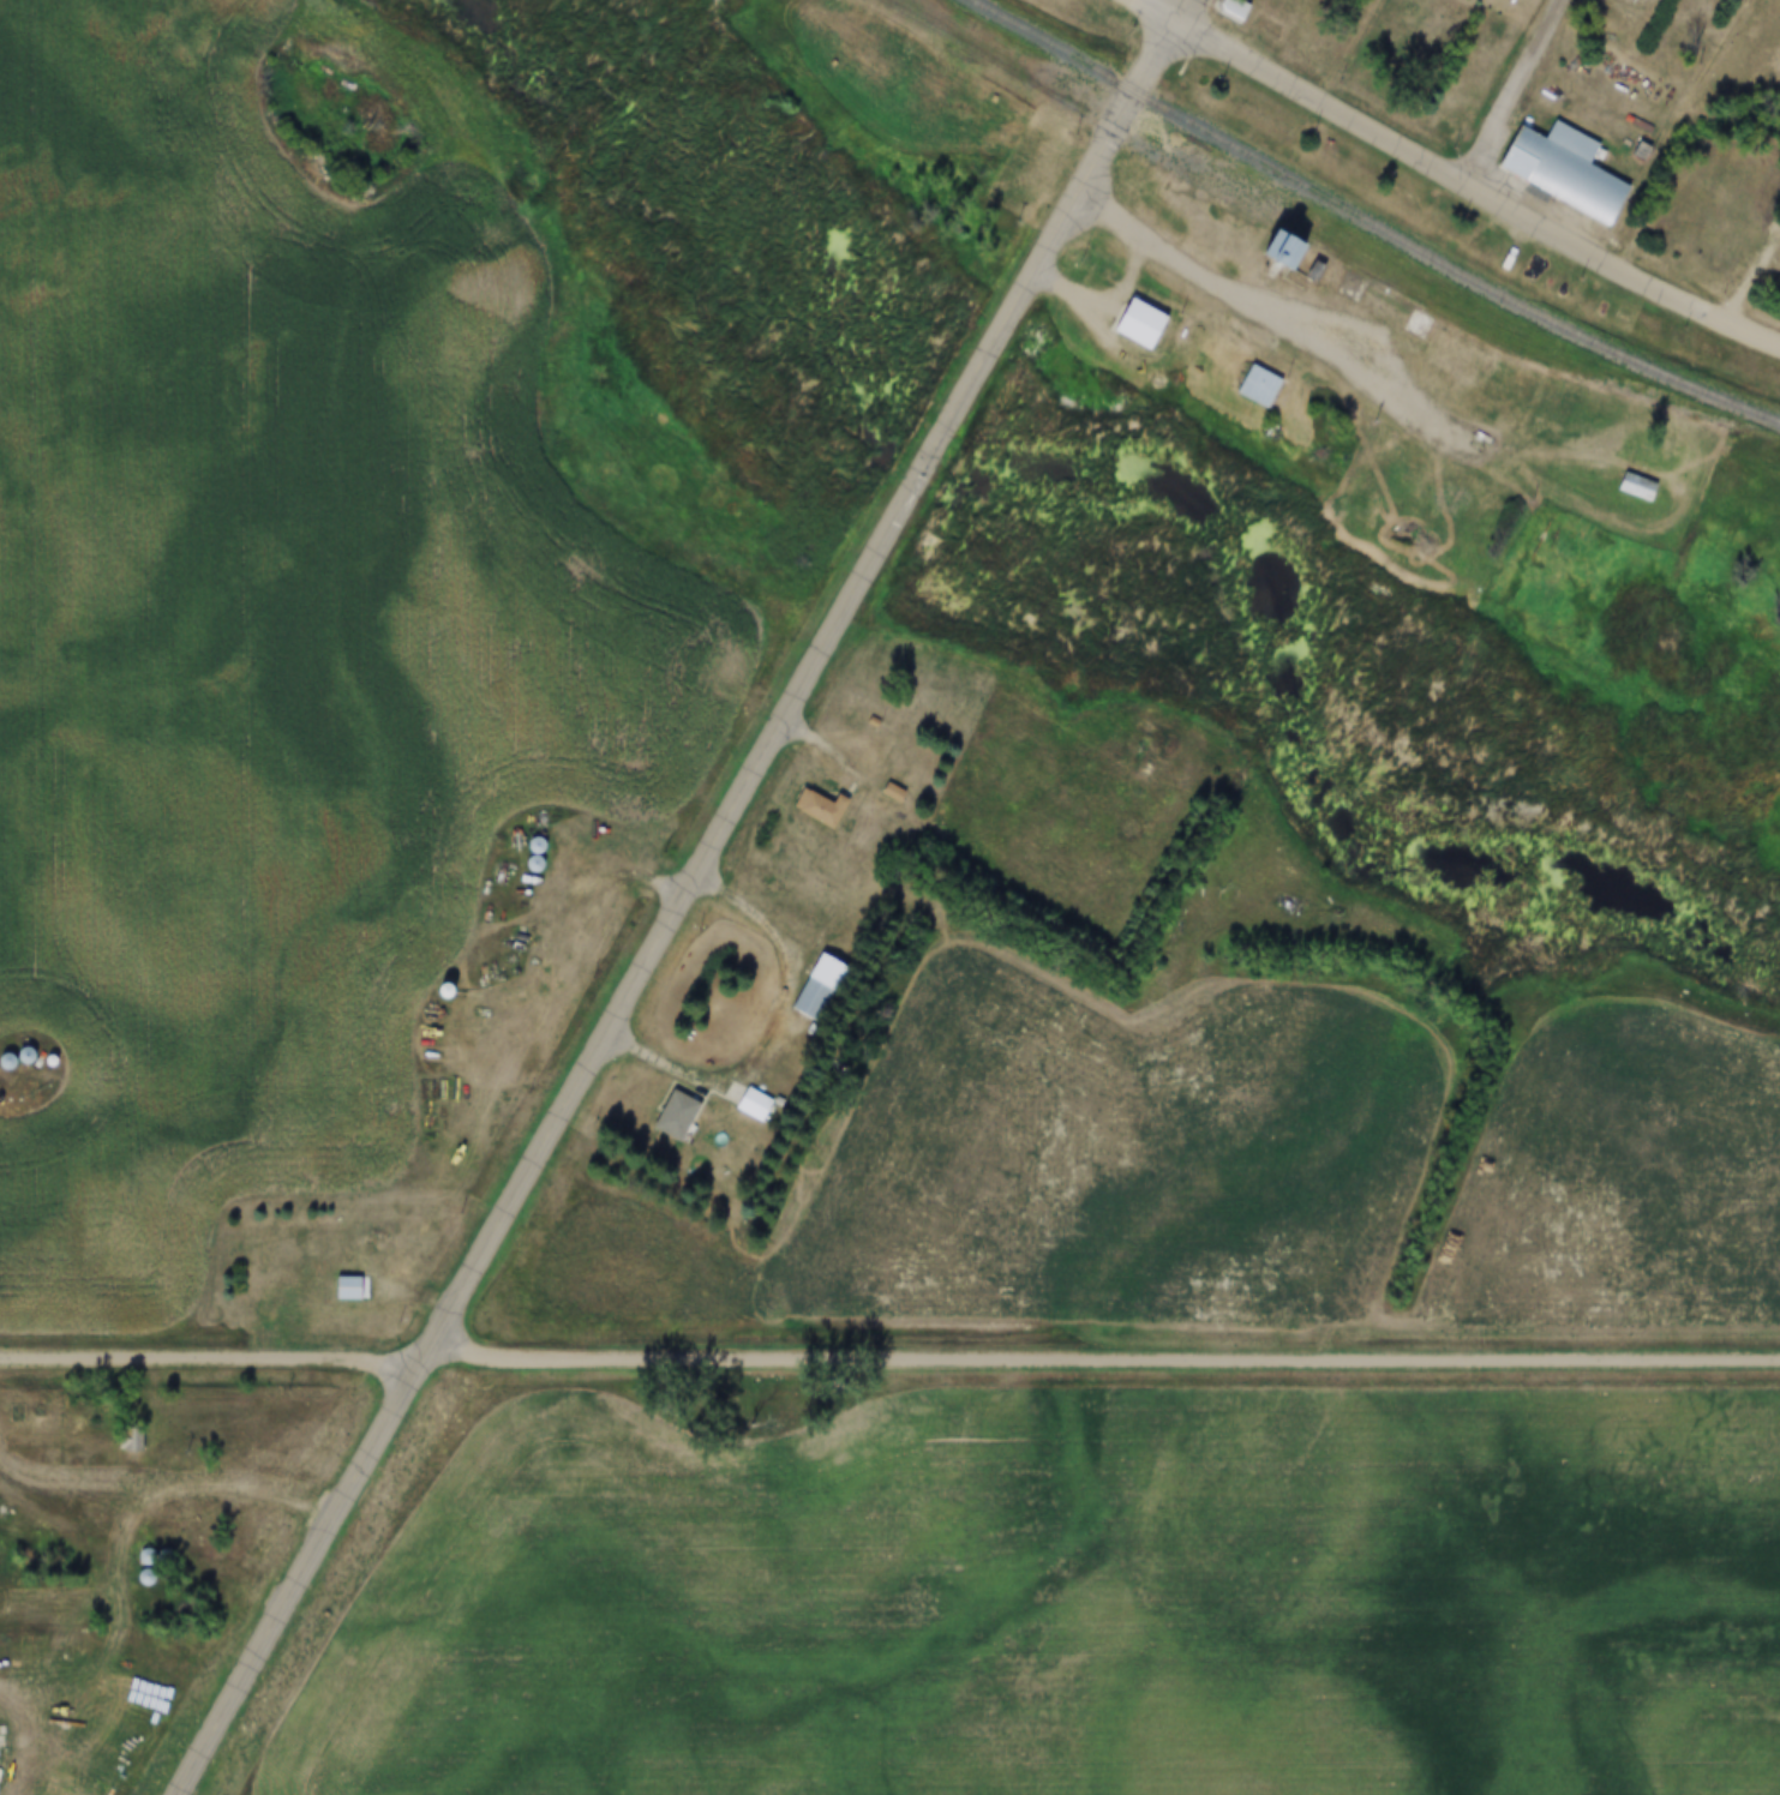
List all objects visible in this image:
road: (1157, 10)
road: (1181, 10)
building: (1233, 11)
road: (1156, 55)
road: (1512, 90)
building: (1647, 151)
building: (1574, 169)
road: (1449, 172)
railway: (1371, 223)
building: (1743, 223)
building: (1291, 251)
building: (1314, 272)
building: (1150, 323)
road: (1297, 326)
road: (1752, 329)
building: (1551, 362)
building: (1267, 385)
building: (1644, 487)
building: (1451, 494)
building: (1442, 496)
road: (781, 726)
building: (901, 792)
building: (893, 793)
building: (829, 806)
building: (546, 844)
silo: (546, 844)
building: (543, 864)
silo: (543, 864)
road: (595, 877)
building: (829, 986)
building: (453, 992)
silo: (453, 992)
building: (1156, 992)
road: (786, 1029)
building: (14, 1055)
silo: (14, 1055)
building: (24, 1056)
building: (38, 1059)
silo: (38, 1059)
building: (1, 1061)
silo: (1, 1061)
building: (762, 1104)
building: (685, 1116)
road: (17, 1123)
building: (272, 1229)
building: (379, 1230)
building: (257, 1245)
building: (356, 1287)
road: (212, 1356)
road: (1107, 1357)
building: (119, 1437)
building: (134, 1437)
road: (52, 1503)
road: (119, 1555)
building: (136, 1555)
silo: (136, 1555)
building: (134, 1575)
silo: (134, 1575)
road: (302, 1578)

